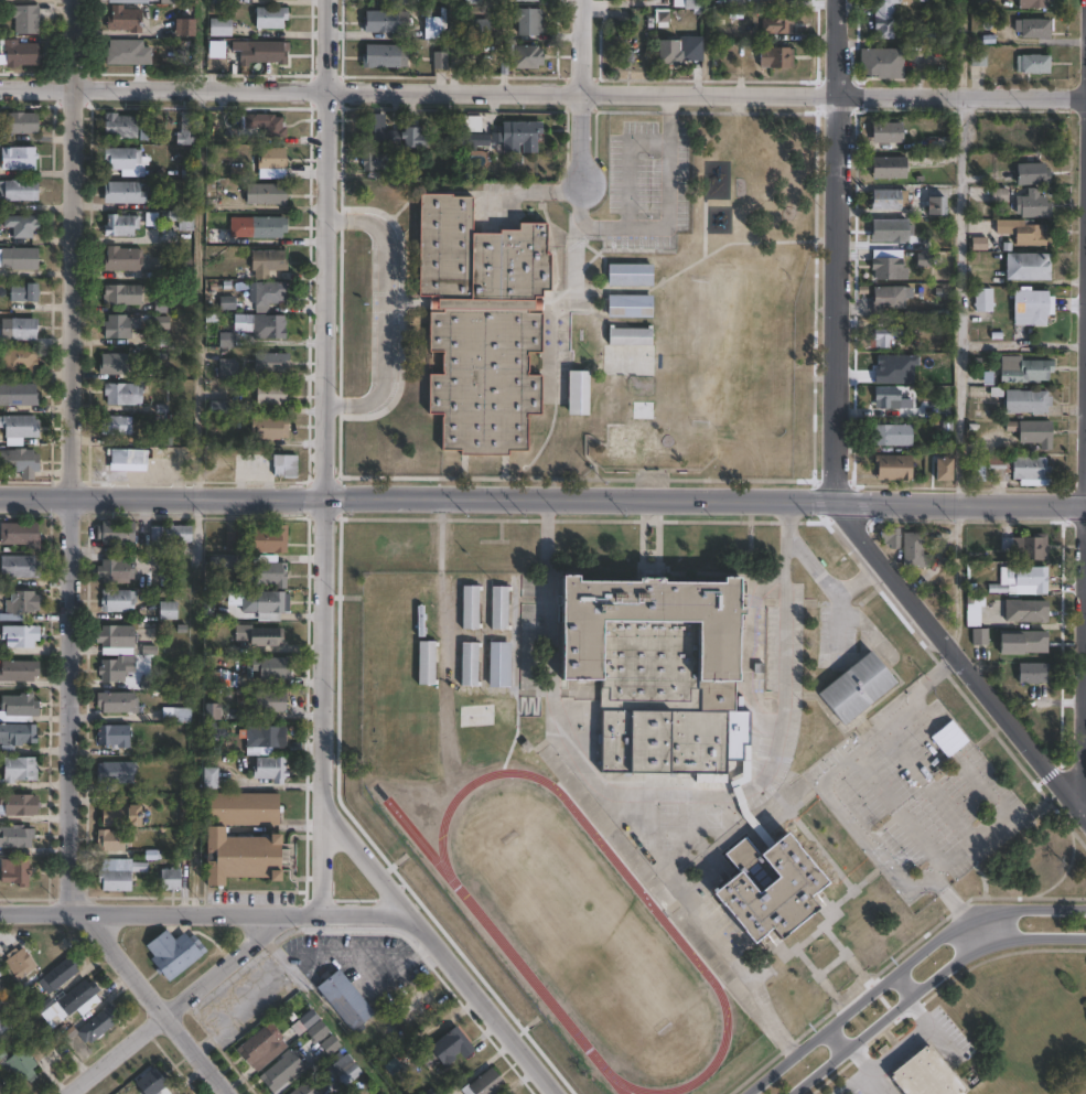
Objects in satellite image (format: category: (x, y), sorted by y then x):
building: (381, 0)
building: (525, 0)
building: (777, 0)
building: (128, 1)
building: (218, 1)
building: (471, 1)
building: (168, 2)
building: (688, 3)
building: (1034, 3)
building: (269, 17)
building: (884, 18)
building: (22, 19)
building: (122, 19)
building: (527, 21)
building: (384, 22)
building: (777, 23)
building: (182, 26)
building: (218, 26)
building: (1032, 26)
building: (432, 29)
building: (479, 29)
road: (325, 44)
road: (837, 46)
road: (961, 46)
building: (666, 47)
building: (126, 52)
building: (18, 53)
building: (261, 53)
building: (383, 55)
building: (524, 55)
building: (775, 57)
building: (978, 58)
building: (440, 61)
building: (881, 63)
building: (1032, 63)
road: (162, 88)
road: (581, 92)
road: (580, 94)
road: (961, 94)
building: (17, 122)
building: (467, 122)
building: (265, 125)
building: (118, 126)
building: (185, 129)
building: (388, 133)
building: (517, 135)
building: (885, 135)
building: (472, 140)
building: (935, 142)
building: (17, 159)
building: (120, 160)
building: (372, 161)
building: (270, 163)
building: (889, 169)
building: (187, 171)
building: (1031, 172)
building: (18, 190)
road: (533, 191)
building: (121, 193)
building: (264, 194)
building: (1002, 194)
building: (885, 200)
building: (1032, 204)
building: (937, 205)
building: (179, 219)
road: (667, 219)
building: (119, 225)
building: (19, 226)
building: (266, 227)
building: (890, 230)
building: (1022, 232)
building: (215, 236)
building: (924, 244)
building: (18, 259)
building: (121, 259)
building: (266, 262)
building: (1028, 267)
building: (178, 268)
building: (888, 269)
building: (632, 275)
road: (197, 291)
building: (22, 292)
road: (324, 292)
building: (121, 294)
building: (265, 296)
road: (958, 297)
building: (889, 298)
building: (983, 300)
building: (226, 303)
building: (163, 307)
building: (632, 308)
building: (1031, 308)
road: (381, 312)
building: (922, 318)
building: (118, 326)
building: (269, 326)
building: (486, 326)
building: (20, 329)
building: (633, 337)
building: (888, 337)
building: (224, 340)
building: (20, 361)
building: (269, 363)
building: (112, 364)
building: (890, 365)
building: (226, 369)
building: (1023, 369)
building: (122, 394)
building: (270, 394)
building: (580, 394)
building: (20, 395)
building: (888, 400)
building: (1025, 403)
building: (217, 408)
building: (115, 425)
building: (267, 428)
building: (17, 429)
building: (1032, 432)
building: (892, 436)
building: (161, 438)
building: (634, 442)
building: (125, 457)
building: (18, 462)
building: (999, 462)
building: (282, 465)
building: (892, 468)
building: (943, 470)
building: (978, 470)
building: (1031, 471)
road: (542, 497)
road: (840, 502)
building: (19, 534)
building: (114, 534)
building: (168, 535)
building: (889, 537)
building: (266, 540)
building: (232, 541)
building: (1026, 547)
building: (913, 553)
building: (233, 561)
building: (18, 568)
building: (114, 571)
building: (268, 575)
road: (71, 577)
building: (1021, 579)
road: (956, 580)
road: (828, 582)
building: (116, 601)
building: (18, 605)
building: (270, 605)
building: (469, 608)
building: (499, 608)
building: (166, 611)
building: (1025, 611)
building: (971, 614)
building: (147, 631)
building: (18, 636)
building: (255, 637)
building: (979, 637)
building: (115, 640)
building: (1022, 642)
building: (427, 662)
building: (470, 664)
building: (652, 664)
building: (498, 665)
building: (114, 671)
building: (17, 672)
building: (270, 672)
building: (1028, 673)
building: (853, 686)
building: (115, 702)
building: (267, 702)
road: (322, 704)
building: (18, 708)
building: (209, 712)
building: (175, 714)
road: (890, 723)
building: (213, 730)
building: (112, 734)
building: (265, 737)
building: (14, 738)
building: (269, 768)
building: (17, 770)
building: (114, 771)
building: (208, 776)
parking lot: (915, 793)
road: (670, 794)
building: (18, 804)
building: (117, 813)
building: (14, 836)
building: (243, 838)
building: (109, 839)
road: (963, 849)
building: (15, 871)
building: (114, 876)
building: (174, 876)
building: (768, 886)
road: (206, 911)
road: (959, 911)
road: (702, 919)
track: (491, 931)
road: (438, 948)
building: (172, 952)
building: (17, 962)
road: (902, 968)
building: (1, 970)
building: (57, 974)
road: (926, 985)
building: (76, 999)
building: (343, 999)
road: (183, 1002)
building: (96, 1021)
building: (303, 1022)
building: (2, 1030)
building: (316, 1031)
park: (982, 1031)
building: (329, 1044)
building: (261, 1045)
building: (450, 1045)
building: (18, 1064)
building: (281, 1070)
building: (346, 1074)
building: (924, 1074)
building: (150, 1082)
building: (483, 1083)
building: (302, 1088)
building: (6, 1090)

